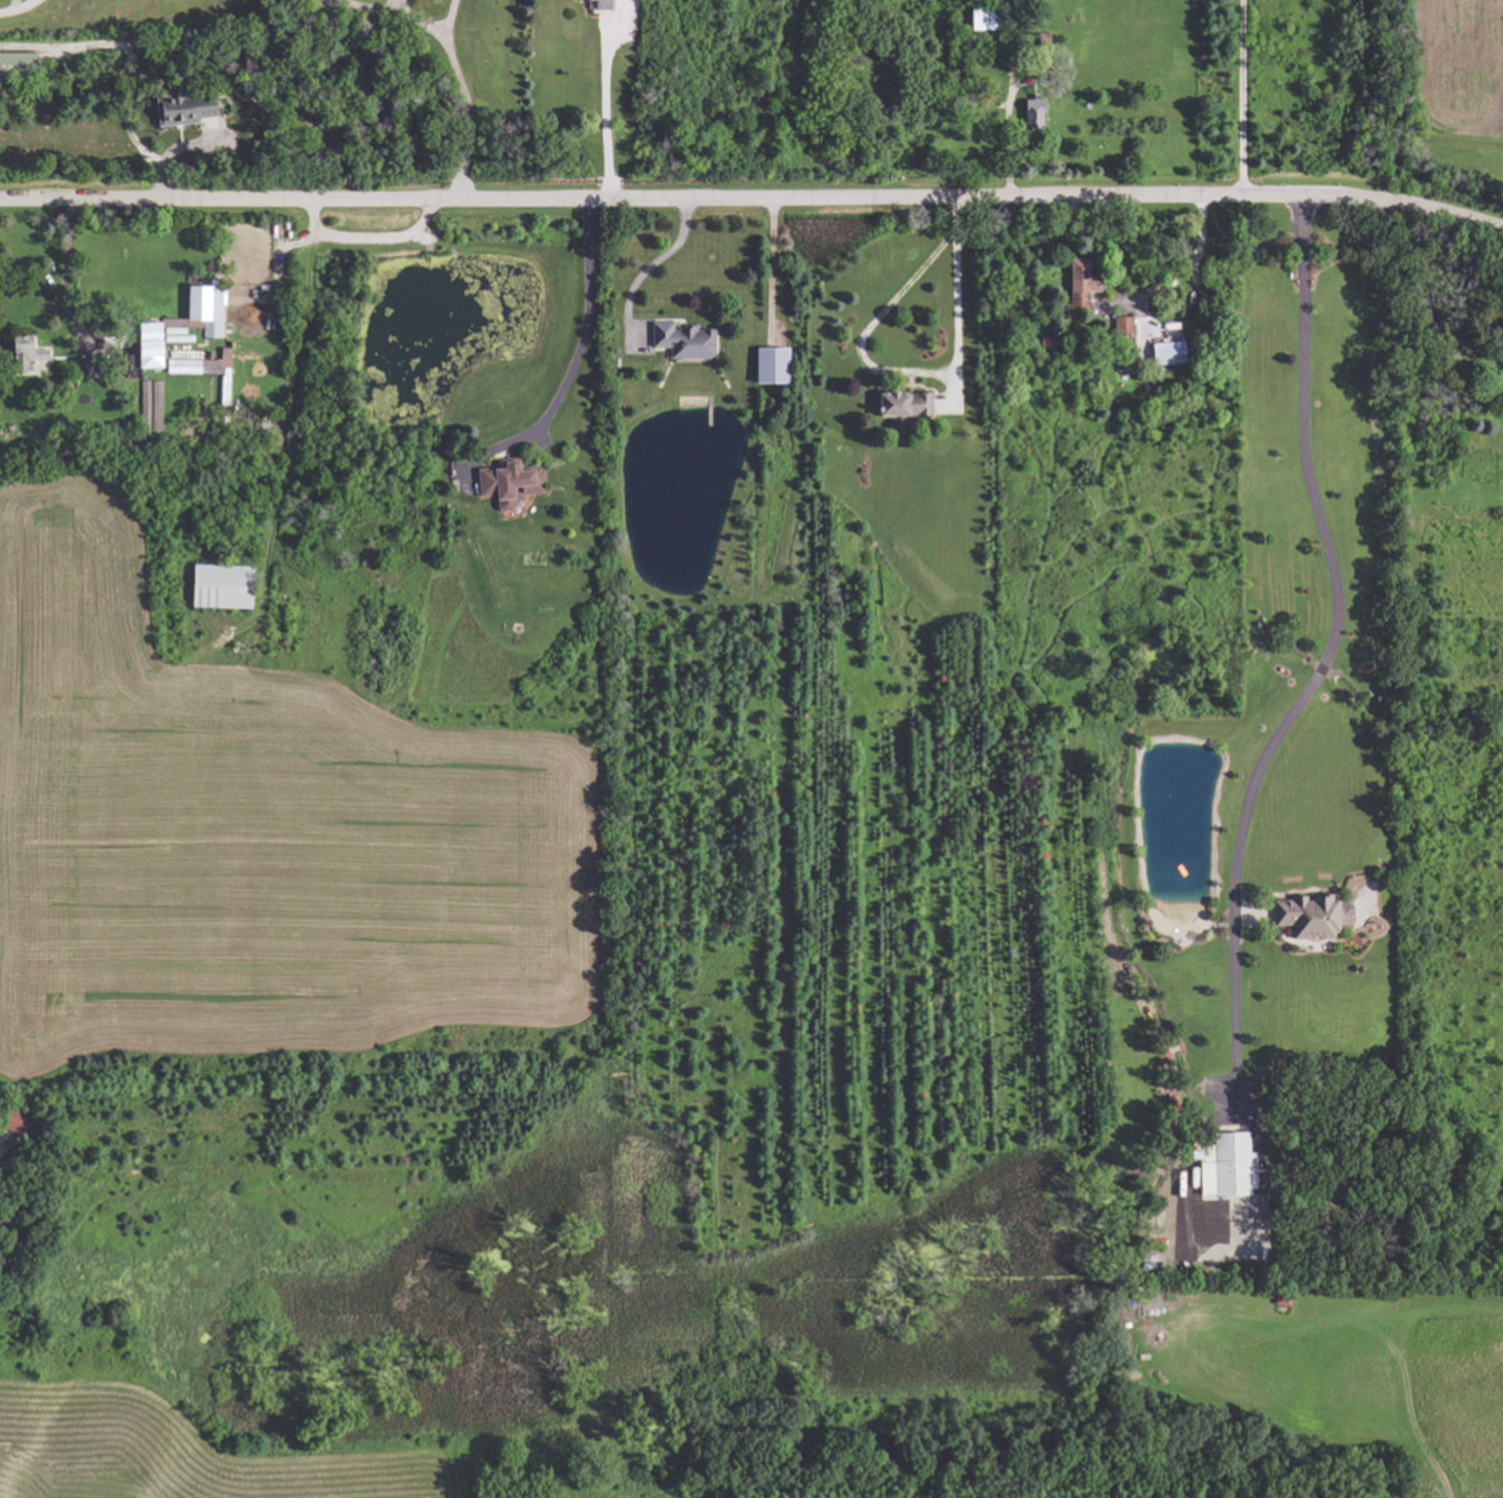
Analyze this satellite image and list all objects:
building: (570, 0)
building: (600, 5)
road: (19, 9)
road: (450, 14)
road: (417, 20)
building: (976, 21)
building: (17, 65)
road: (1238, 98)
road: (608, 107)
building: (182, 109)
road: (468, 112)
building: (1029, 116)
road: (753, 199)
road: (649, 265)
road: (770, 266)
road: (1191, 266)
road: (54, 272)
building: (1075, 283)
building: (1120, 326)
building: (679, 342)
road: (578, 344)
building: (146, 345)
building: (21, 352)
building: (1163, 354)
building: (223, 357)
building: (766, 367)
road: (911, 371)
building: (900, 406)
building: (504, 483)
road: (1334, 567)
building: (216, 586)
building: (1309, 916)
building: (1222, 1165)

